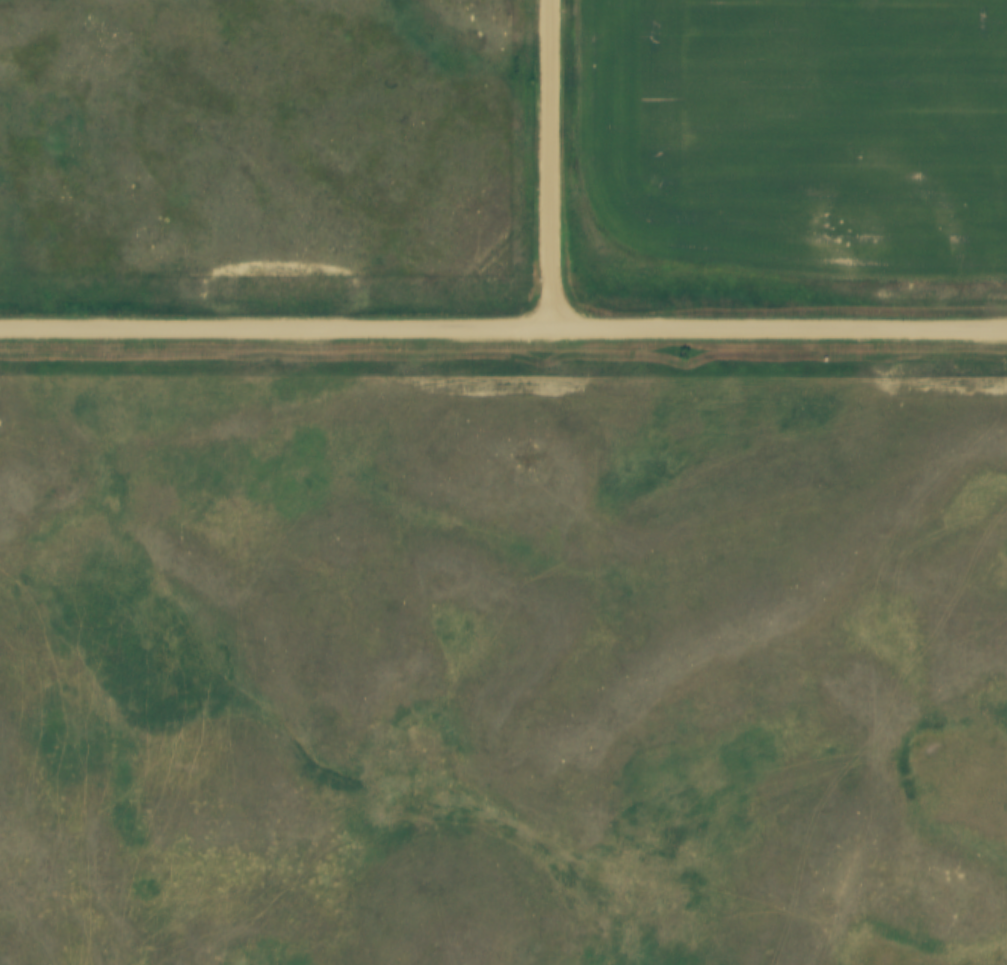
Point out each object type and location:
road: (551, 162)
road: (503, 325)

